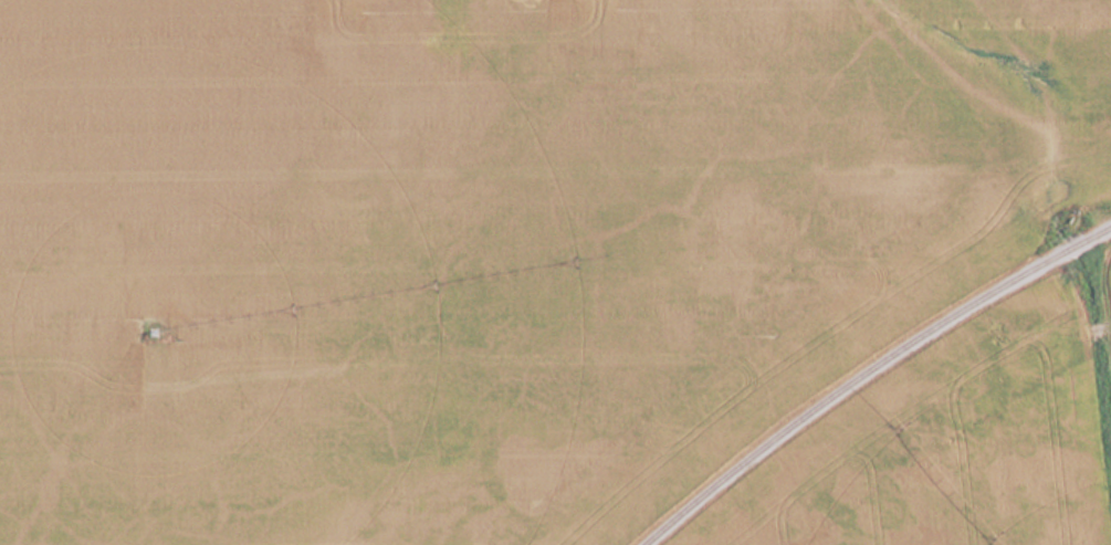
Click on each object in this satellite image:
railway: (894, 384)

